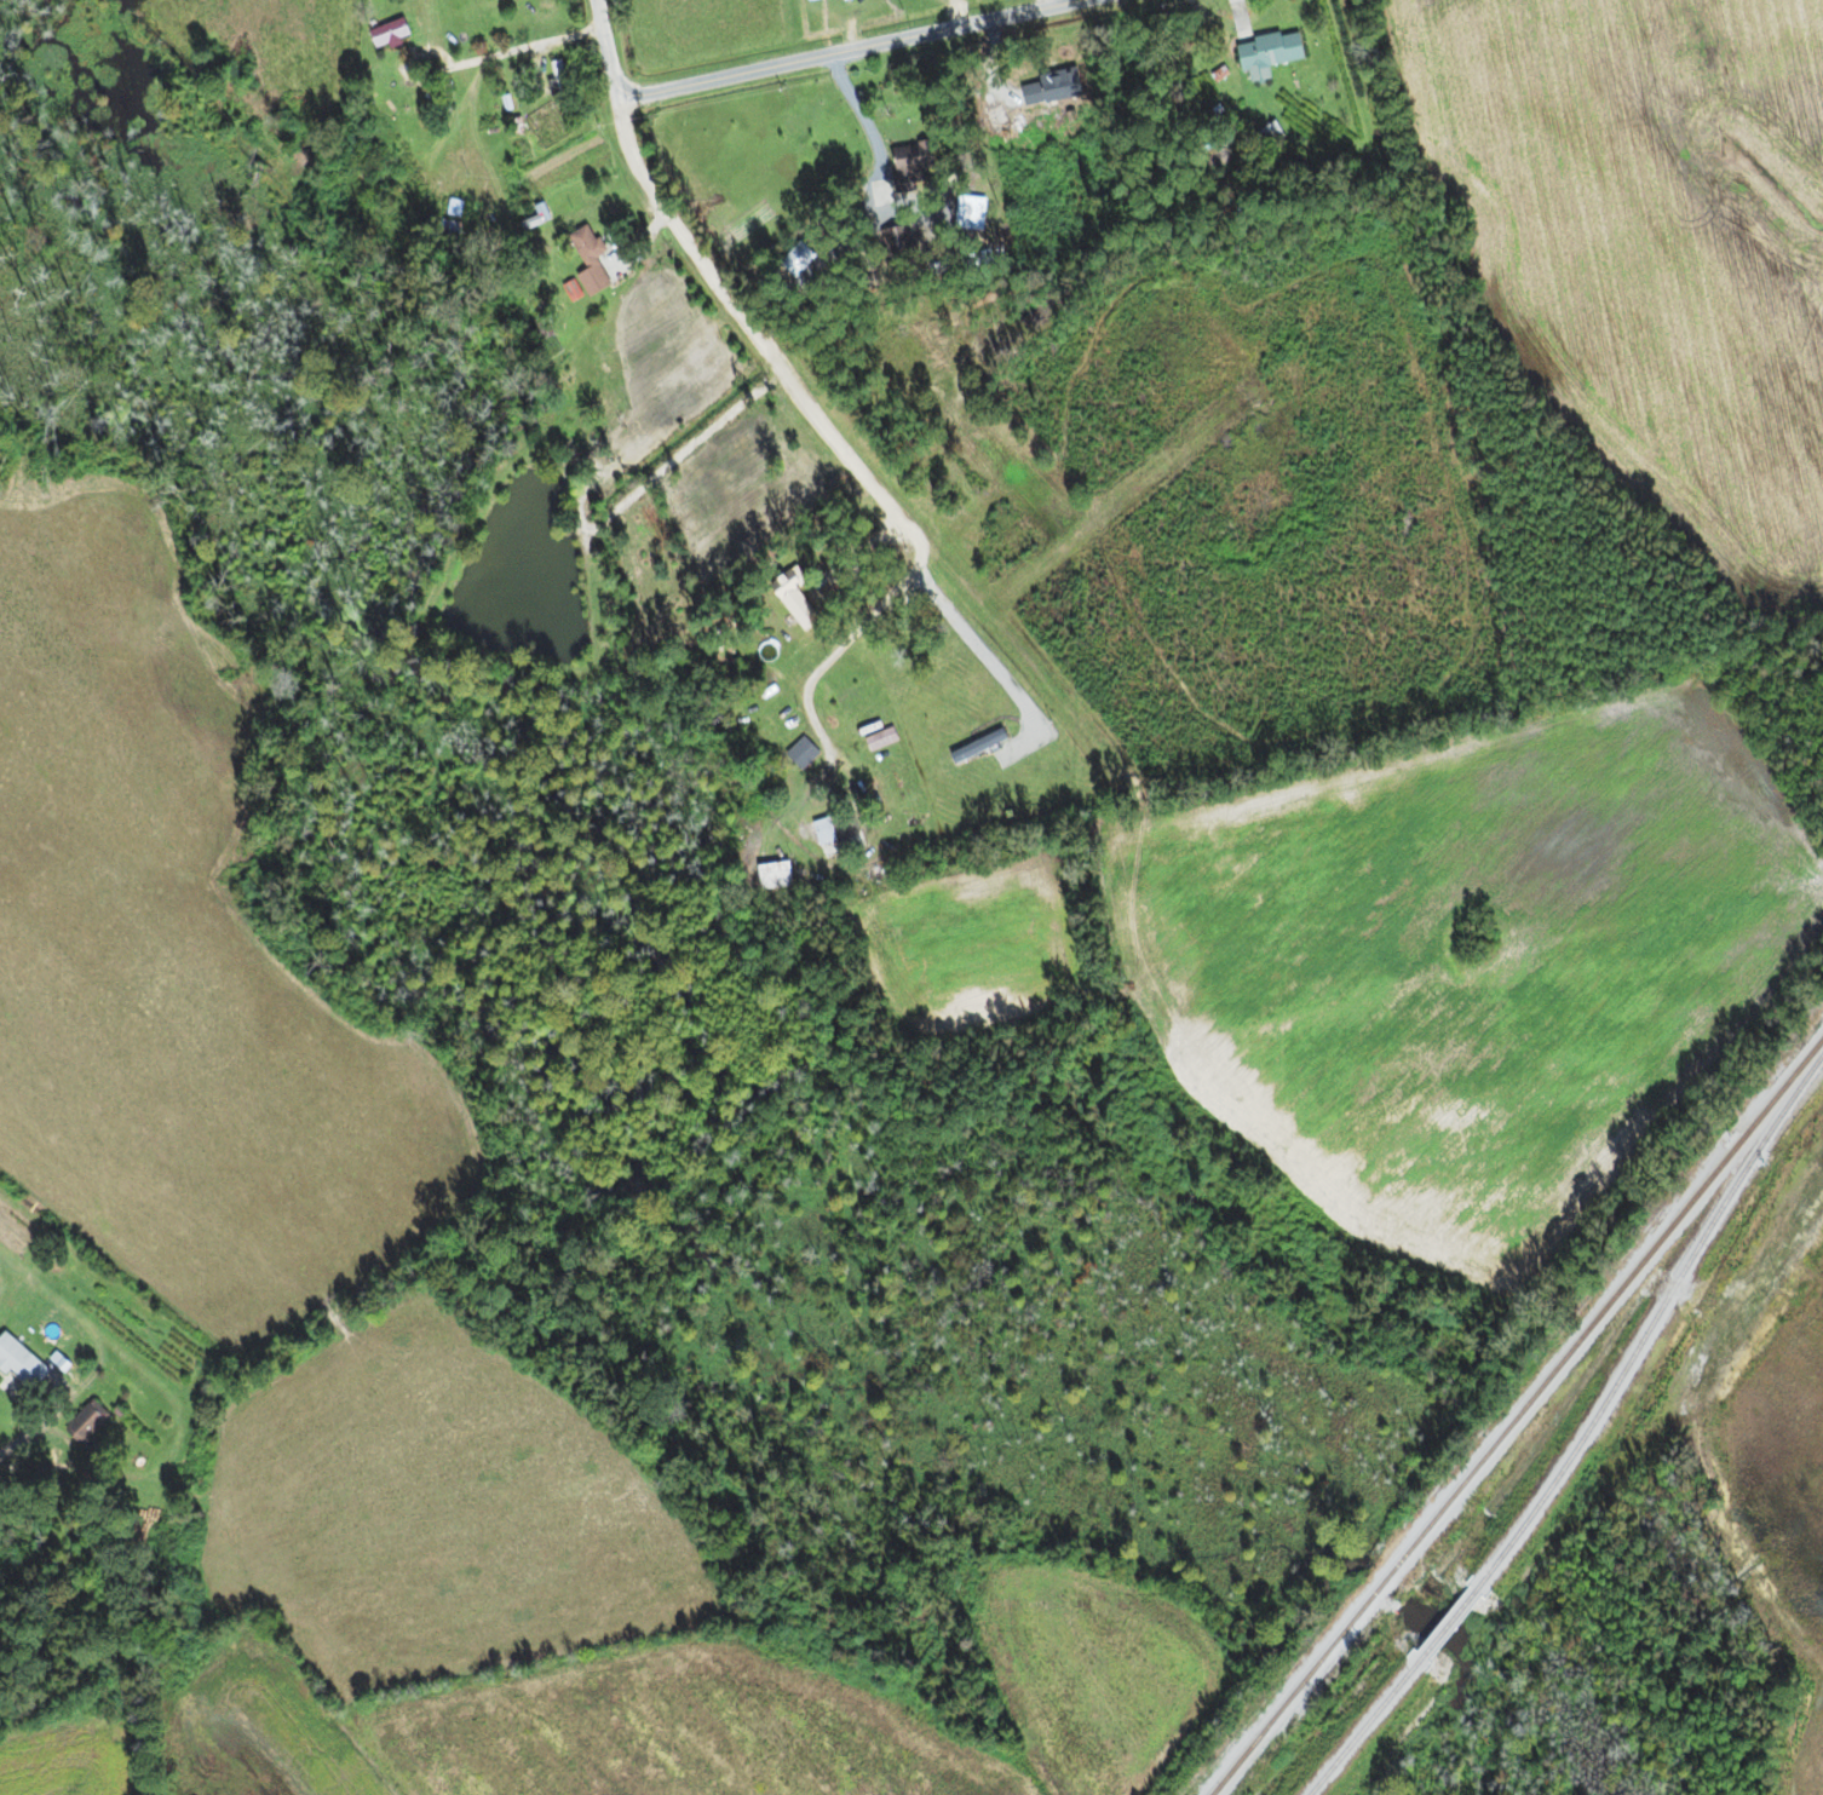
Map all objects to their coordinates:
building: (397, 31)
road: (606, 47)
road: (849, 50)
building: (1277, 53)
building: (922, 172)
building: (514, 184)
building: (456, 226)
building: (597, 260)
road: (830, 430)
building: (807, 605)
road: (985, 655)
building: (807, 752)
building: (838, 829)
building: (784, 875)
railway: (1654, 1323)
building: (18, 1356)
railway: (1513, 1413)
building: (93, 1420)
railway: (1453, 1610)
railway: (1353, 1718)

